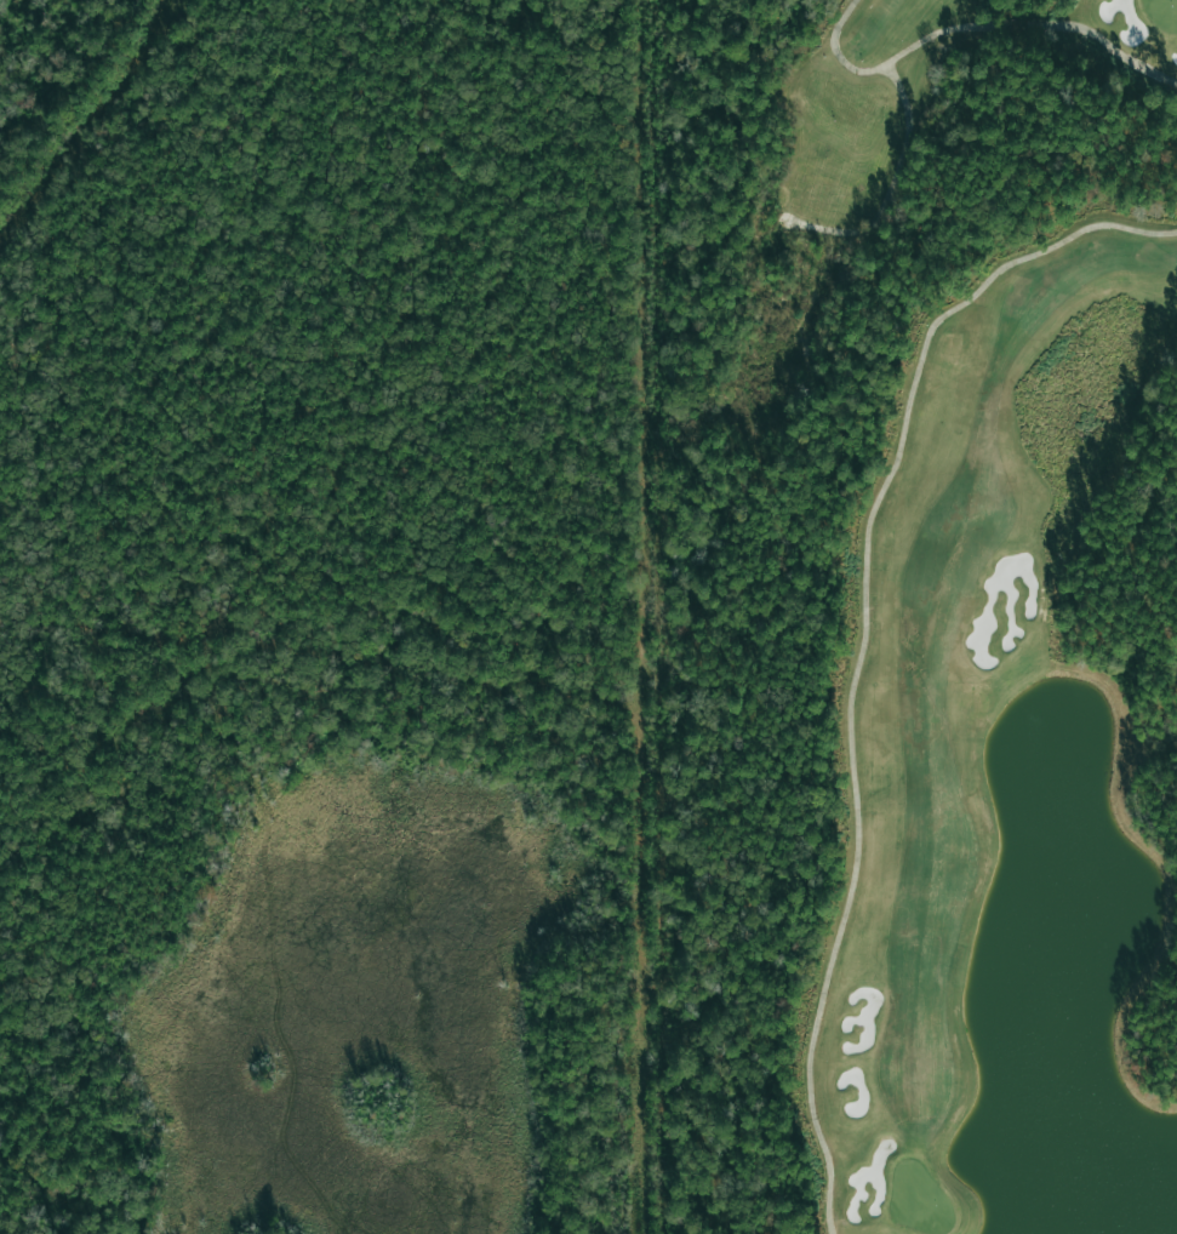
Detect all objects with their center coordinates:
park: (912, 615)
park: (912, 615)

